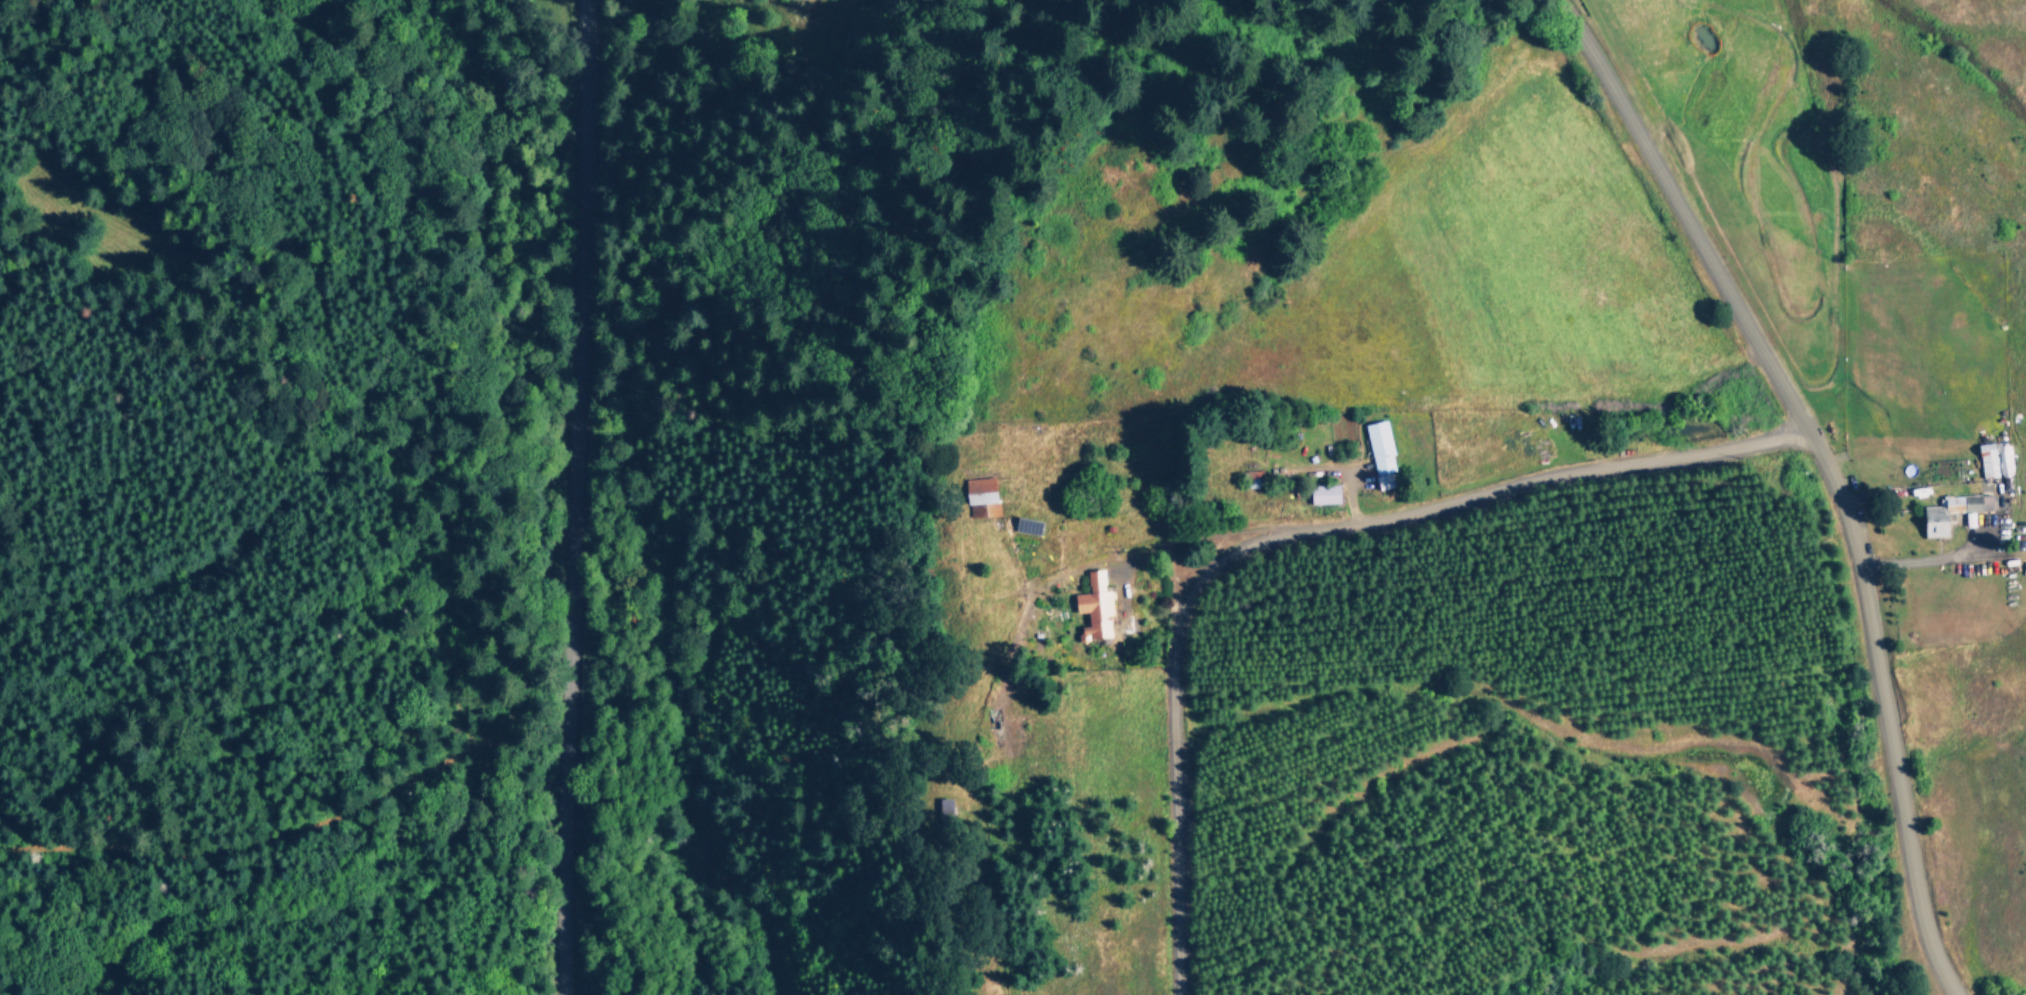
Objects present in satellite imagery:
building: (851, 14)
crop: (1728, 349)
building: (1384, 449)
road: (1825, 470)
building: (985, 492)
road: (557, 496)
building: (1328, 496)
building: (1951, 515)
road: (1287, 534)
road: (1157, 547)
road: (1930, 562)
building: (1100, 608)
building: (1009, 737)

